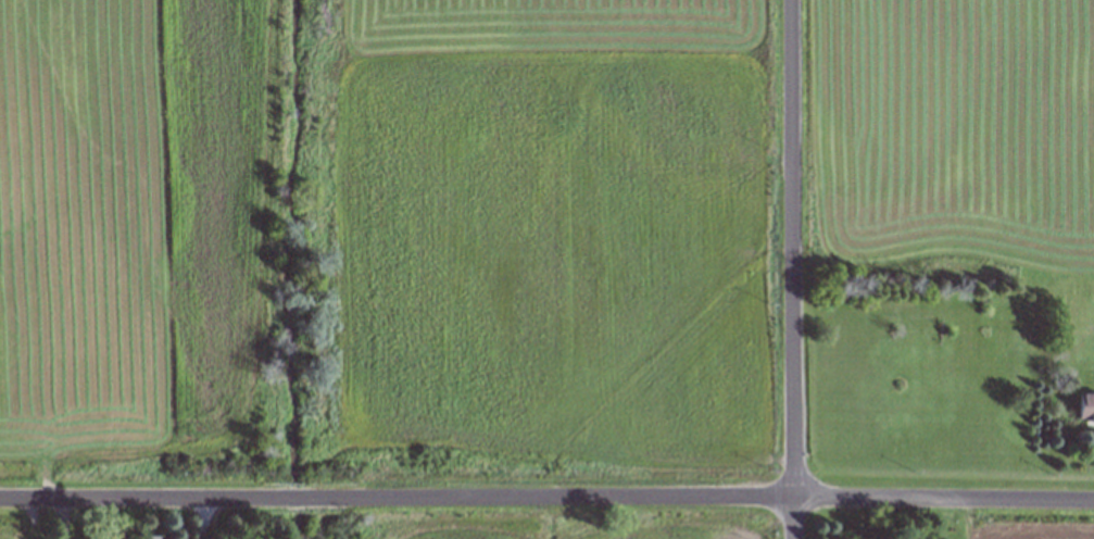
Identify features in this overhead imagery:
road: (790, 268)
building: (1083, 408)
road: (546, 498)

